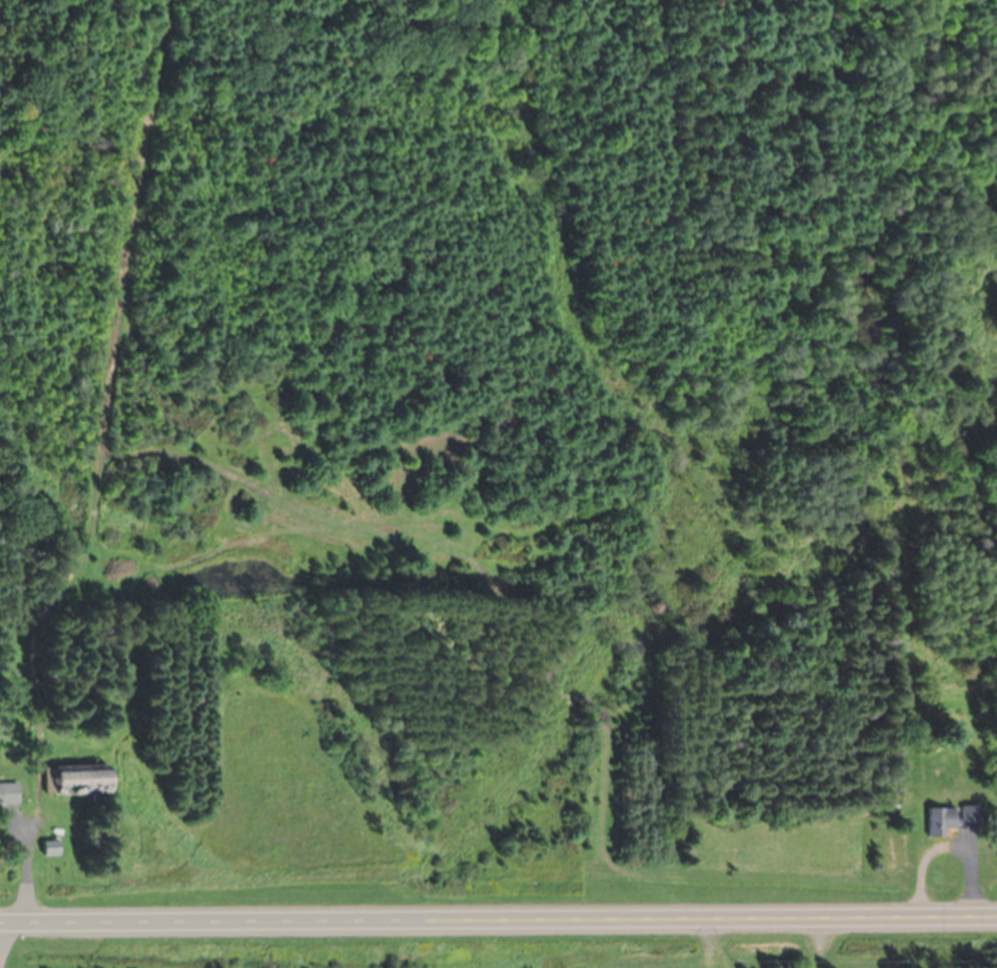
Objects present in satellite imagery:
building: (71, 780)
building: (890, 793)
building: (6, 796)
building: (949, 820)
building: (43, 848)
road: (498, 919)

